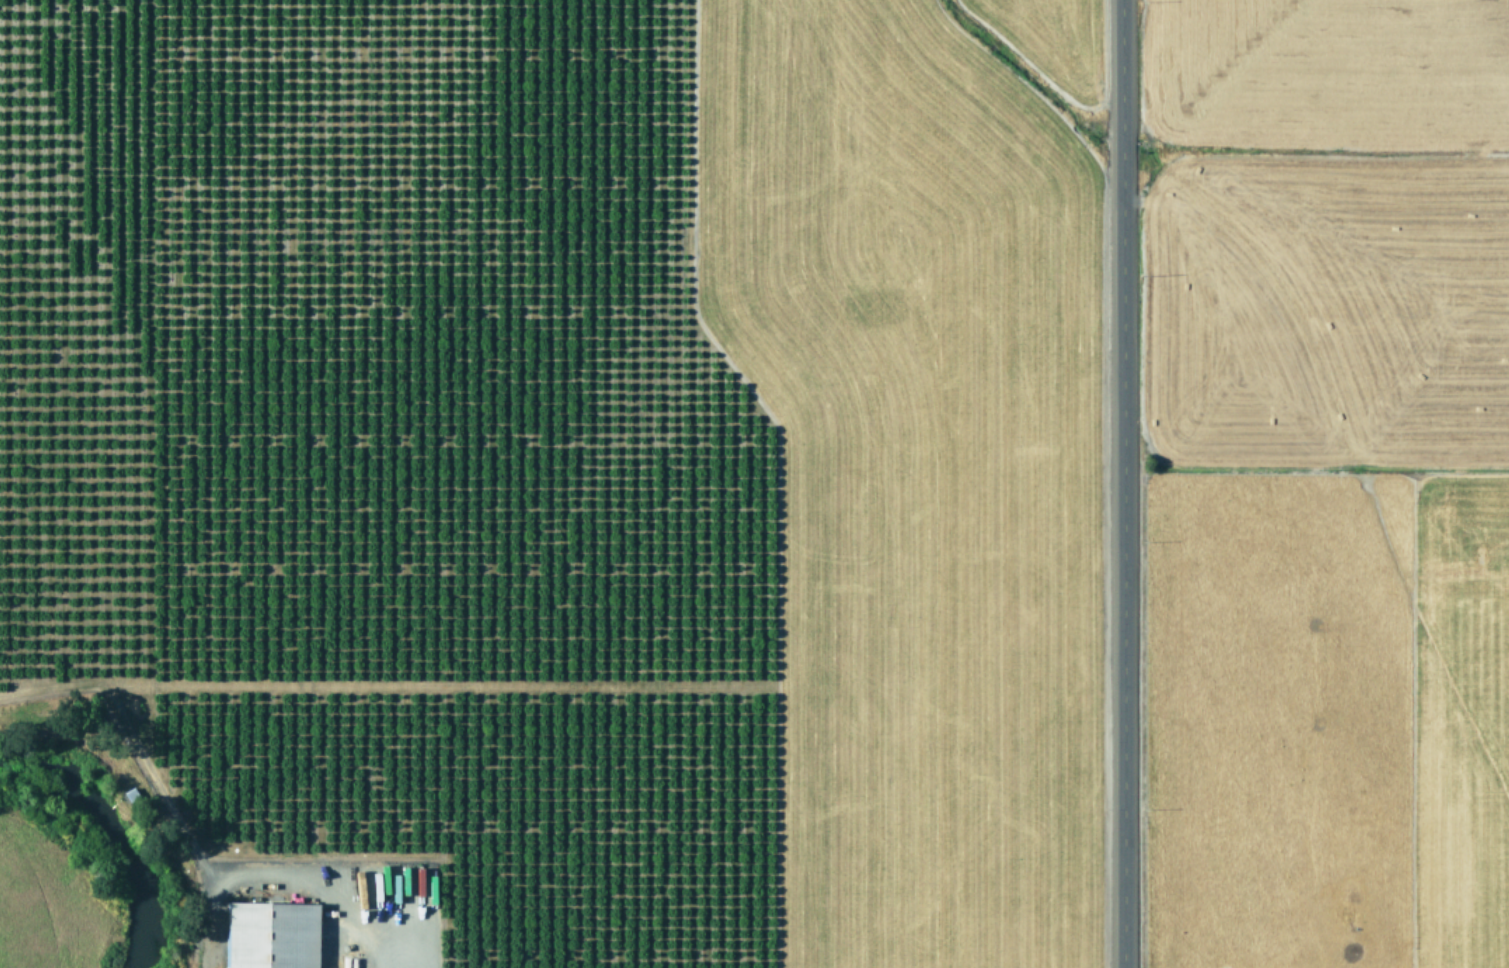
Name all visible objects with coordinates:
road: (1121, 484)
crop: (44, 893)
building: (413, 894)
building: (271, 934)

